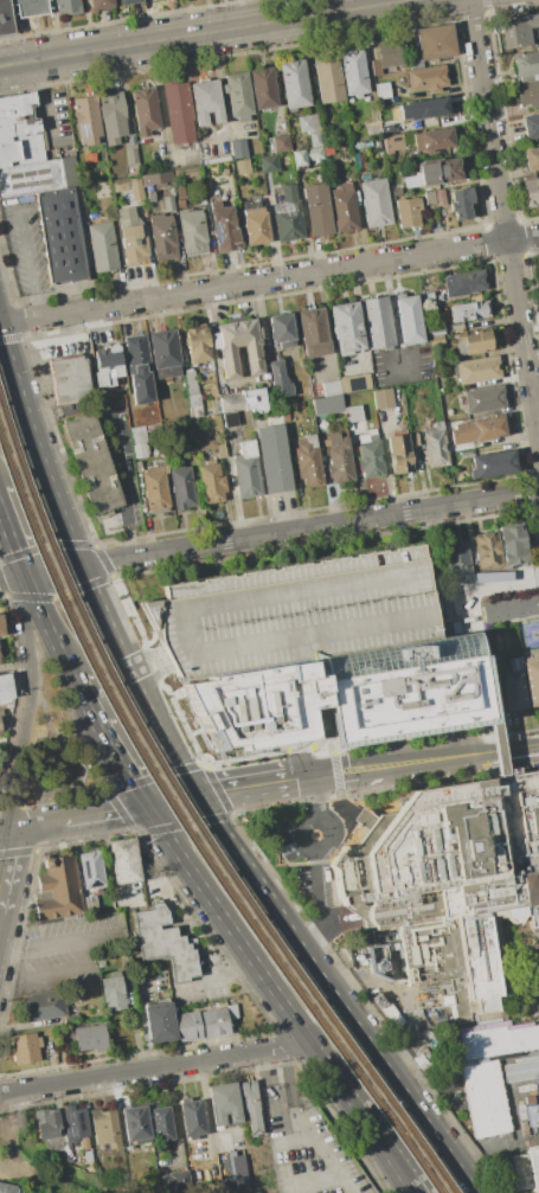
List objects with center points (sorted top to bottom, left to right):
building: (127, 1)
building: (100, 4)
building: (68, 6)
building: (26, 9)
building: (5, 18)
building: (518, 31)
road: (204, 32)
building: (434, 41)
building: (391, 52)
building: (526, 65)
building: (374, 68)
building: (353, 72)
building: (327, 77)
building: (425, 78)
building: (294, 84)
building: (263, 88)
building: (380, 90)
building: (528, 94)
building: (238, 95)
road: (220, 97)
road: (43, 101)
road: (158, 102)
building: (205, 102)
building: (426, 108)
building: (143, 111)
building: (178, 111)
building: (111, 116)
building: (85, 118)
building: (308, 123)
building: (531, 126)
building: (19, 130)
building: (315, 139)
building: (431, 139)
building: (392, 142)
building: (281, 143)
building: (237, 149)
building: (88, 155)
building: (130, 155)
building: (307, 156)
building: (531, 158)
building: (268, 163)
building: (242, 166)
building: (222, 169)
building: (434, 173)
building: (31, 178)
building: (156, 178)
building: (120, 185)
building: (179, 188)
building: (531, 190)
building: (135, 191)
building: (396, 192)
building: (421, 194)
building: (439, 197)
building: (429, 198)
building: (180, 203)
building: (374, 203)
building: (461, 203)
building: (167, 204)
building: (344, 207)
building: (316, 209)
building: (408, 212)
building: (287, 214)
road: (503, 218)
building: (255, 225)
building: (223, 226)
building: (191, 230)
building: (63, 237)
building: (130, 237)
building: (162, 237)
parking lot: (26, 243)
building: (101, 246)
road: (30, 255)
road: (269, 278)
building: (466, 282)
building: (467, 312)
road: (392, 315)
building: (409, 319)
building: (377, 323)
building: (346, 328)
building: (281, 329)
building: (435, 331)
building: (313, 333)
building: (435, 340)
building: (473, 341)
building: (197, 344)
building: (165, 353)
building: (136, 357)
building: (254, 361)
building: (108, 365)
building: (475, 370)
building: (68, 379)
building: (278, 380)
building: (354, 383)
building: (331, 387)
building: (192, 393)
building: (383, 398)
building: (482, 399)
building: (242, 402)
building: (300, 404)
building: (338, 406)
building: (320, 408)
building: (353, 413)
building: (230, 419)
building: (477, 429)
building: (413, 438)
building: (435, 445)
building: (140, 450)
building: (220, 450)
road: (36, 451)
building: (370, 454)
building: (399, 454)
building: (339, 457)
building: (274, 458)
road: (116, 461)
building: (309, 461)
road: (385, 461)
building: (90, 462)
building: (492, 463)
building: (245, 470)
building: (211, 483)
building: (181, 487)
building: (155, 492)
road: (269, 535)
road: (12, 545)
building: (514, 546)
building: (487, 550)
traffic signals: (81, 566)
building: (457, 566)
traffic signals: (24, 576)
building: (490, 576)
road: (512, 585)
building: (509, 608)
road: (101, 611)
building: (295, 614)
parking lot: (295, 614)
building: (457, 618)
building: (0, 631)
road: (14, 665)
road: (148, 665)
building: (532, 679)
building: (514, 685)
building: (5, 686)
building: (404, 689)
road: (77, 695)
road: (14, 701)
road: (28, 706)
building: (258, 706)
building: (1, 719)
road: (150, 721)
building: (0, 732)
road: (498, 748)
road: (506, 749)
road: (455, 750)
park: (56, 753)
road: (373, 755)
road: (249, 772)
road: (394, 774)
road: (312, 775)
traffic signals: (187, 782)
road: (194, 793)
road: (166, 795)
road: (257, 795)
road: (315, 802)
traffic signals: (203, 804)
road: (174, 806)
traffic signals: (146, 808)
road: (76, 819)
railway: (191, 819)
road: (219, 827)
road: (300, 834)
road: (5, 835)
road: (332, 835)
railway: (188, 836)
building: (123, 860)
building: (89, 868)
road: (6, 871)
building: (448, 879)
building: (58, 887)
road: (268, 897)
building: (90, 904)
road: (319, 904)
road: (227, 924)
road: (58, 943)
building: (163, 944)
building: (373, 961)
road: (538, 969)
road: (53, 973)
building: (113, 992)
building: (79, 994)
road: (402, 1001)
building: (43, 1006)
building: (232, 1012)
building: (70, 1020)
building: (159, 1022)
building: (214, 1022)
building: (187, 1026)
building: (89, 1038)
building: (25, 1047)
road: (371, 1050)
building: (488, 1064)
road: (154, 1065)
building: (537, 1090)
building: (223, 1103)
building: (249, 1105)
road: (206, 1107)
road: (276, 1111)
road: (364, 1116)
building: (192, 1118)
building: (135, 1123)
building: (75, 1124)
building: (161, 1124)
building: (49, 1125)
building: (105, 1128)
road: (525, 1139)
parking lot: (307, 1140)
building: (83, 1143)
road: (313, 1144)
building: (526, 1168)
road: (458, 1173)
road: (463, 1173)
building: (174, 1178)
road: (307, 1179)
building: (6, 1188)
building: (46, 1192)

